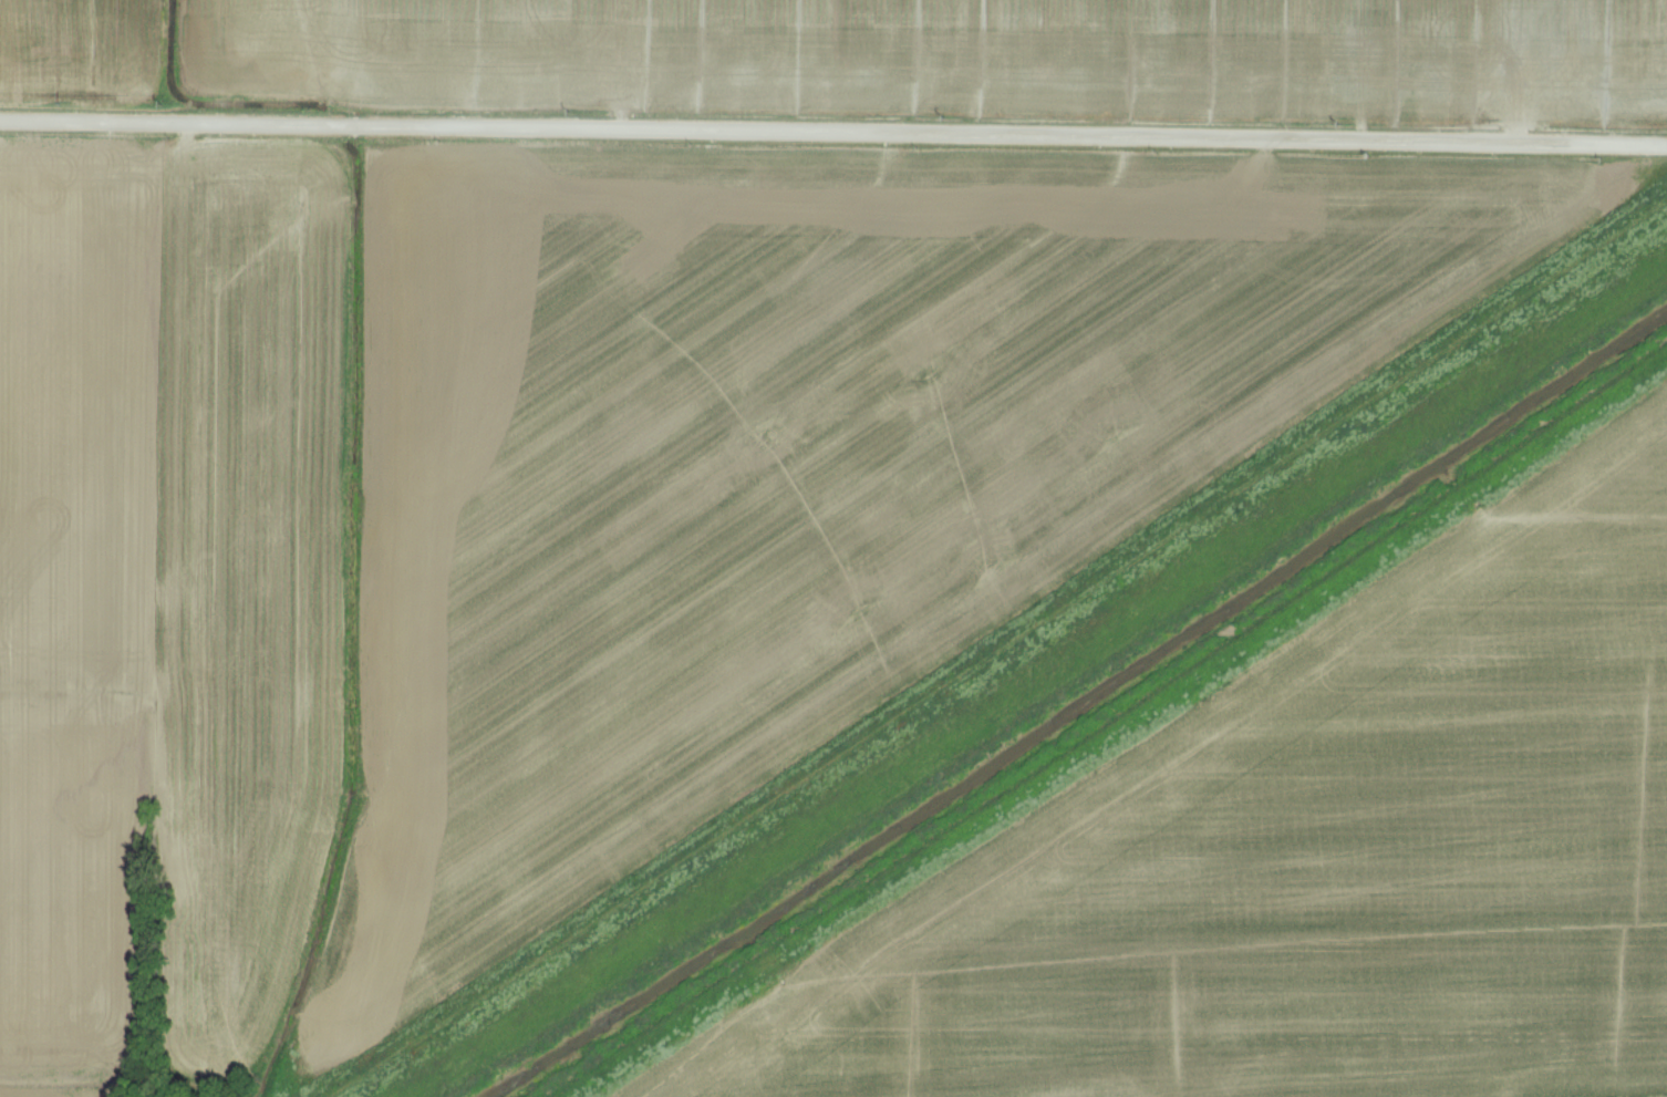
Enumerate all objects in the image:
road: (832, 132)

